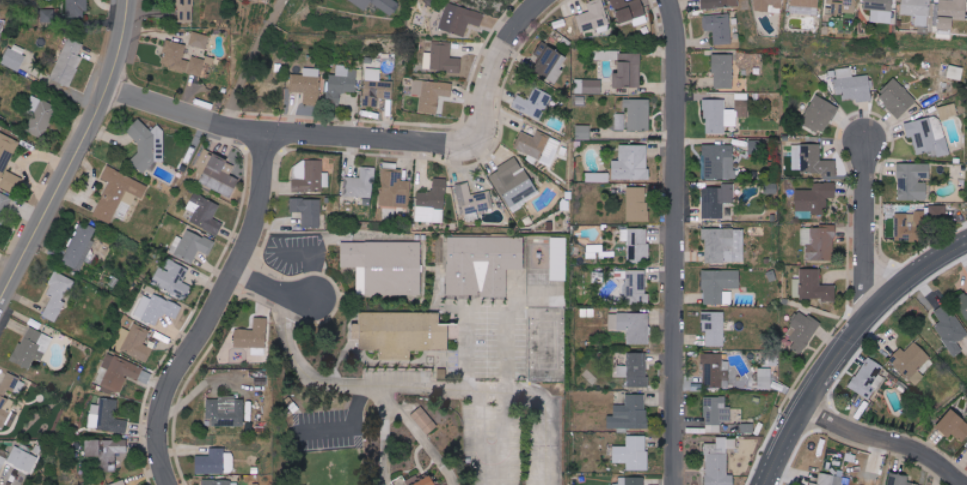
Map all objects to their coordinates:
building: (719, 3)
building: (766, 4)
building: (378, 5)
building: (805, 7)
building: (836, 7)
building: (77, 9)
building: (185, 10)
building: (880, 10)
building: (916, 10)
building: (630, 11)
building: (951, 15)
building: (593, 16)
building: (459, 19)
building: (0, 24)
building: (718, 27)
building: (199, 40)
building: (174, 56)
building: (441, 58)
building: (13, 59)
road: (249, 61)
building: (68, 62)
building: (550, 62)
building: (201, 66)
building: (624, 67)
building: (723, 70)
building: (955, 72)
building: (341, 83)
building: (307, 85)
building: (852, 85)
building: (589, 86)
building: (375, 88)
building: (431, 94)
building: (897, 97)
building: (532, 103)
building: (741, 104)
building: (948, 111)
building: (639, 114)
building: (820, 114)
building: (718, 116)
building: (42, 118)
building: (619, 121)
building: (583, 131)
building: (928, 136)
road: (369, 140)
building: (146, 146)
building: (538, 146)
road: (73, 154)
building: (810, 160)
building: (718, 161)
building: (8, 162)
building: (631, 162)
building: (216, 173)
building: (309, 176)
building: (598, 177)
building: (513, 181)
building: (913, 181)
building: (361, 184)
building: (395, 191)
building: (118, 195)
building: (814, 199)
building: (716, 200)
building: (474, 201)
building: (431, 203)
building: (3, 204)
building: (637, 205)
building: (308, 210)
building: (205, 213)
building: (937, 213)
building: (910, 227)
road: (871, 231)
road: (680, 242)
building: (819, 243)
building: (192, 245)
building: (638, 245)
building: (724, 245)
building: (80, 246)
road: (311, 256)
building: (558, 258)
building: (483, 264)
building: (384, 266)
building: (173, 279)
building: (636, 285)
road: (277, 286)
building: (720, 286)
building: (815, 286)
building: (57, 295)
building: (963, 304)
building: (156, 309)
road: (214, 311)
building: (632, 326)
building: (714, 328)
building: (950, 329)
building: (803, 330)
building: (403, 333)
building: (253, 337)
building: (134, 343)
building: (32, 347)
road: (469, 350)
road: (848, 352)
building: (910, 362)
building: (637, 369)
building: (715, 370)
building: (122, 374)
building: (257, 378)
building: (868, 378)
building: (765, 379)
building: (11, 384)
road: (420, 389)
building: (5, 410)
building: (226, 411)
road: (508, 413)
building: (630, 413)
building: (716, 413)
building: (106, 417)
building: (426, 420)
building: (954, 425)
road: (889, 440)
building: (966, 449)
building: (107, 451)
building: (633, 453)
building: (22, 459)
building: (1, 461)
building: (216, 462)
building: (718, 462)
building: (425, 480)
building: (829, 480)
building: (899, 480)
building: (402, 481)
building: (631, 481)
building: (220, 482)
building: (119, 483)

